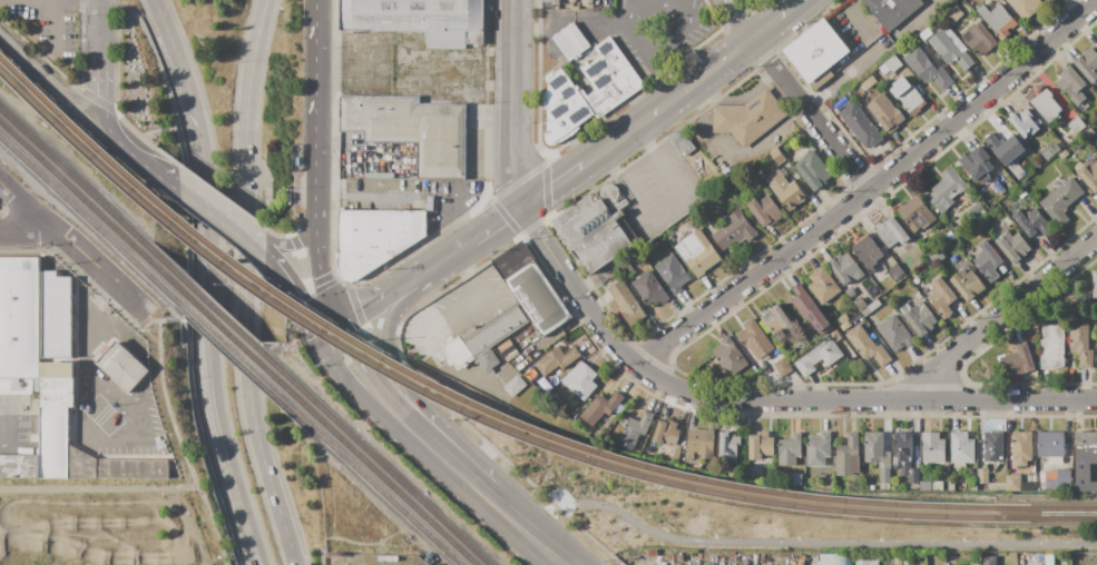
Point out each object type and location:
building: (545, 0)
building: (1046, 0)
road: (98, 1)
building: (557, 2)
building: (589, 2)
building: (1025, 7)
building: (891, 10)
road: (628, 12)
building: (953, 14)
building: (419, 19)
road: (741, 19)
road: (853, 20)
building: (997, 20)
road: (160, 21)
road: (53, 28)
road: (679, 30)
building: (921, 36)
road: (98, 38)
building: (979, 39)
building: (950, 48)
building: (814, 51)
road: (731, 54)
building: (893, 65)
building: (1088, 65)
building: (927, 69)
road: (662, 75)
road: (48, 76)
building: (821, 79)
building: (868, 82)
building: (585, 83)
building: (1072, 87)
building: (907, 95)
road: (97, 98)
road: (516, 102)
building: (1045, 106)
building: (885, 113)
road: (316, 115)
road: (810, 115)
building: (747, 118)
building: (1025, 122)
building: (860, 125)
building: (1076, 126)
building: (412, 130)
road: (134, 132)
road: (115, 140)
building: (680, 142)
building: (1005, 148)
building: (1049, 151)
building: (1062, 153)
building: (776, 156)
road: (592, 157)
road: (732, 161)
building: (977, 165)
road: (156, 169)
building: (813, 171)
building: (783, 172)
building: (1088, 172)
building: (761, 175)
railway: (75, 181)
road: (546, 188)
building: (998, 189)
building: (785, 190)
road: (868, 190)
building: (947, 190)
road: (364, 194)
building: (1020, 194)
railway: (75, 195)
road: (219, 196)
road: (204, 199)
building: (1060, 200)
railway: (75, 210)
road: (674, 210)
building: (764, 210)
building: (914, 215)
road: (502, 216)
road: (460, 218)
road: (498, 221)
building: (1032, 222)
building: (597, 227)
road: (246, 229)
building: (734, 231)
building: (890, 232)
road: (29, 234)
road: (280, 235)
road: (246, 236)
building: (950, 236)
building: (374, 238)
road: (243, 239)
road: (290, 244)
building: (1012, 247)
road: (74, 248)
building: (866, 251)
building: (697, 252)
building: (937, 257)
building: (987, 261)
road: (438, 262)
building: (845, 268)
road: (185, 269)
building: (629, 270)
building: (672, 272)
building: (895, 272)
road: (320, 279)
building: (915, 281)
road: (421, 282)
road: (344, 284)
building: (967, 285)
building: (1095, 285)
building: (822, 286)
building: (530, 288)
building: (649, 289)
road: (291, 293)
building: (919, 293)
building: (941, 299)
building: (1079, 303)
building: (626, 304)
road: (208, 305)
road: (366, 305)
road: (472, 305)
building: (870, 308)
building: (904, 309)
building: (810, 314)
road: (1001, 314)
building: (57, 316)
building: (775, 319)
building: (842, 319)
building: (920, 319)
railway: (228, 325)
building: (844, 326)
traffic signals: (332, 327)
road: (321, 331)
building: (894, 334)
building: (835, 336)
traffic signals: (310, 337)
building: (491, 337)
railway: (229, 338)
building: (754, 339)
building: (1079, 343)
building: (866, 346)
building: (1051, 347)
building: (508, 350)
building: (456, 351)
building: (791, 355)
railway: (232, 357)
building: (729, 357)
building: (817, 357)
building: (550, 361)
building: (1016, 361)
building: (121, 367)
building: (783, 367)
road: (366, 375)
building: (586, 376)
road: (404, 380)
building: (58, 384)
building: (19, 385)
road: (350, 386)
building: (513, 386)
railway: (448, 396)
building: (496, 397)
road: (763, 402)
building: (32, 405)
railway: (448, 407)
building: (599, 407)
road: (173, 424)
road: (6, 425)
building: (33, 425)
road: (463, 425)
building: (634, 430)
building: (665, 433)
road: (82, 435)
building: (33, 438)
road: (420, 439)
building: (701, 444)
building: (1050, 445)
building: (728, 446)
building: (760, 446)
building: (992, 446)
building: (160, 447)
building: (873, 447)
building: (961, 447)
building: (1021, 447)
building: (932, 448)
building: (1085, 448)
building: (790, 449)
building: (817, 449)
building: (84, 455)
building: (848, 456)
building: (904, 456)
building: (884, 462)
building: (959, 465)
building: (19, 466)
building: (1051, 475)
building: (884, 476)
building: (982, 476)
road: (461, 477)
building: (796, 480)
building: (1058, 480)
railway: (395, 482)
building: (1012, 483)
building: (1039, 484)
building: (850, 486)
building: (884, 486)
building: (924, 486)
building: (938, 486)
building: (950, 486)
building: (973, 486)
road: (98, 487)
building: (1027, 487)
railway: (390, 488)
railway: (385, 498)
railway: (1046, 509)
railway: (1045, 521)
road: (282, 522)
road: (542, 522)
park: (108, 523)
park: (786, 527)
road: (525, 531)
road: (821, 543)
building: (652, 554)
building: (753, 558)
building: (835, 559)
building: (988, 561)
building: (1036, 561)
building: (1048, 561)
building: (792, 562)
building: (866, 562)
building: (898, 562)
building: (905, 562)
building: (918, 564)

